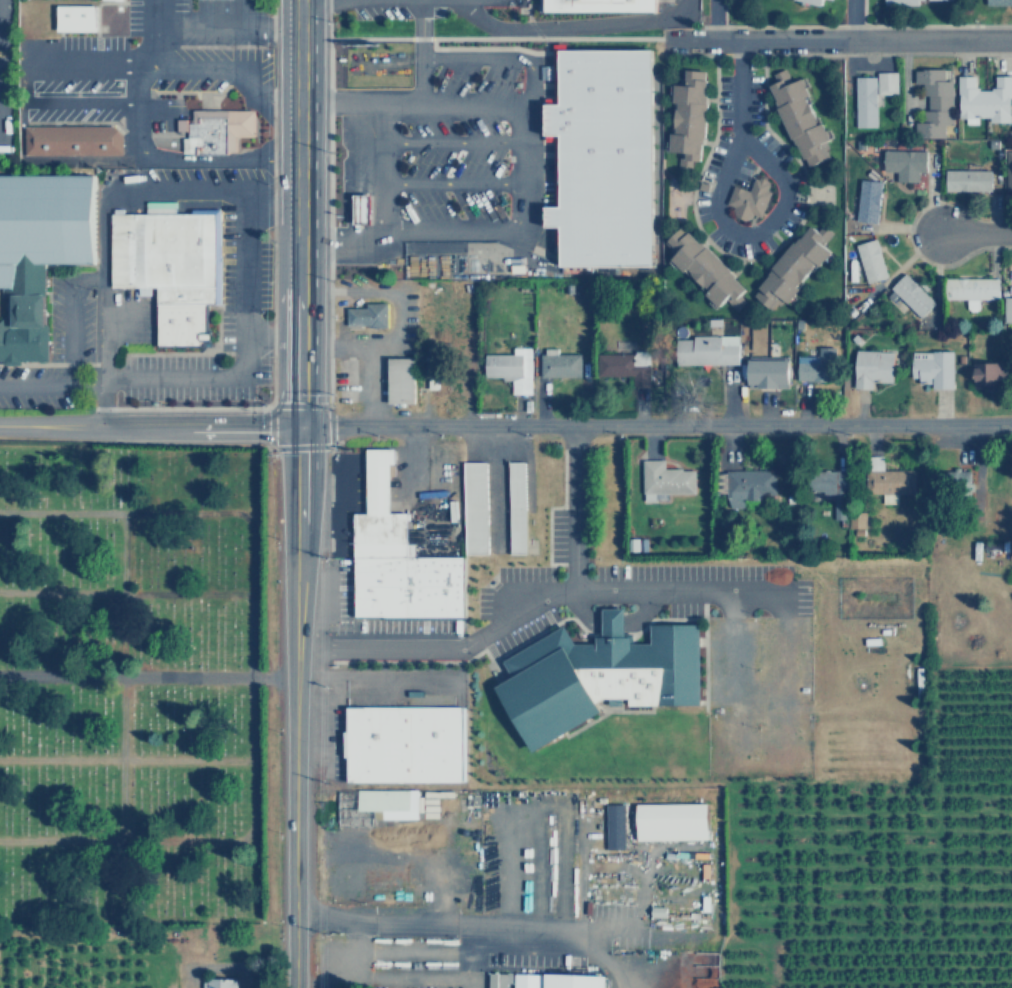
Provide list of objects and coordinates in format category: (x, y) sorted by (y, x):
building: (120, 0)
building: (998, 2)
building: (807, 3)
building: (899, 3)
road: (541, 4)
road: (235, 5)
building: (601, 5)
road: (195, 11)
road: (525, 11)
road: (724, 13)
road: (862, 13)
building: (76, 18)
road: (713, 19)
road: (852, 19)
road: (568, 27)
road: (855, 27)
road: (154, 30)
road: (497, 38)
road: (838, 39)
road: (489, 47)
road: (546, 48)
road: (836, 53)
road: (83, 59)
road: (417, 86)
building: (870, 98)
building: (984, 101)
building: (930, 103)
road: (412, 110)
building: (796, 114)
building: (685, 117)
road: (88, 121)
building: (213, 131)
building: (69, 140)
road: (455, 146)
building: (607, 156)
building: (904, 164)
building: (1008, 170)
road: (385, 174)
building: (965, 180)
road: (525, 181)
road: (455, 190)
park: (821, 193)
building: (747, 198)
building: (867, 202)
building: (361, 209)
gas station: (361, 209)
road: (716, 210)
road: (272, 214)
road: (329, 214)
road: (299, 215)
road: (975, 231)
road: (906, 233)
building: (38, 249)
road: (754, 260)
building: (868, 260)
building: (792, 267)
building: (702, 268)
building: (169, 270)
building: (970, 287)
building: (911, 294)
building: (1007, 308)
building: (367, 315)
gas station: (367, 315)
road: (72, 332)
road: (245, 343)
building: (707, 349)
road: (190, 352)
building: (620, 356)
road: (107, 363)
road: (54, 364)
building: (558, 365)
building: (871, 366)
building: (929, 367)
building: (509, 368)
building: (814, 368)
building: (769, 372)
building: (987, 373)
building: (398, 379)
road: (300, 405)
road: (183, 407)
road: (655, 427)
road: (149, 428)
traffic signals: (299, 430)
building: (663, 479)
building: (887, 481)
building: (952, 482)
building: (749, 485)
building: (827, 488)
building: (513, 507)
building: (472, 508)
building: (857, 519)
building: (395, 557)
road: (125, 591)
road: (510, 618)
road: (731, 653)
building: (603, 673)
road: (146, 674)
road: (249, 676)
road: (120, 677)
park: (131, 680)
road: (293, 708)
building: (402, 744)
road: (125, 759)
building: (375, 807)
building: (668, 821)
building: (613, 826)
road: (430, 924)
building: (499, 979)
building: (526, 980)
building: (574, 980)
building: (220, 983)

